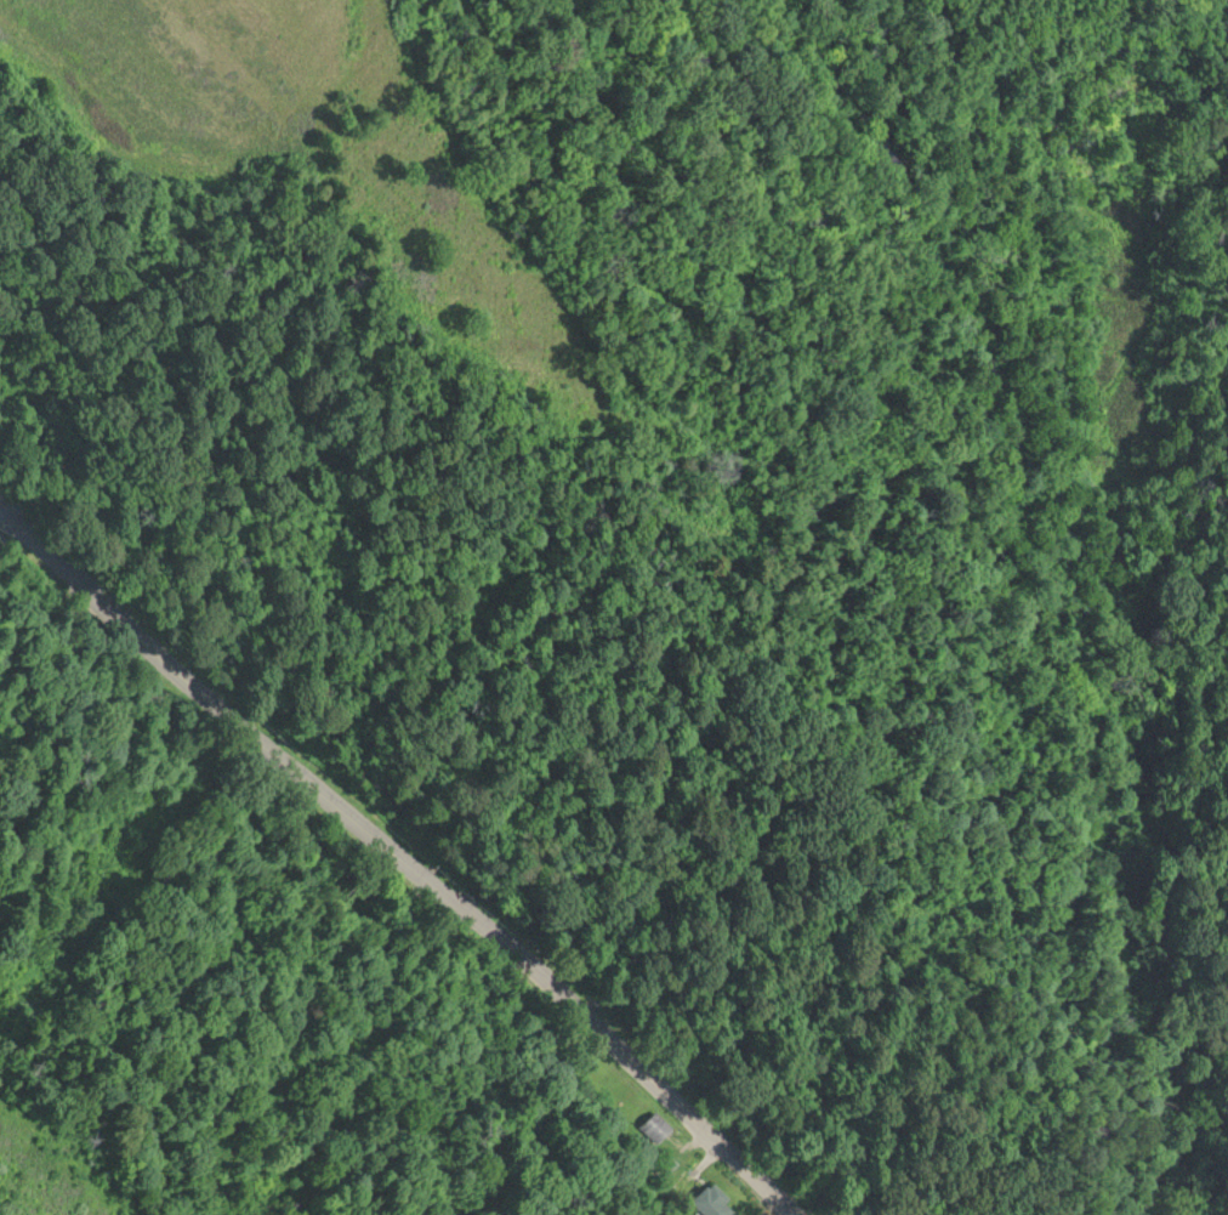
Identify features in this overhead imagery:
road: (403, 858)
building: (658, 1125)
building: (715, 1200)

